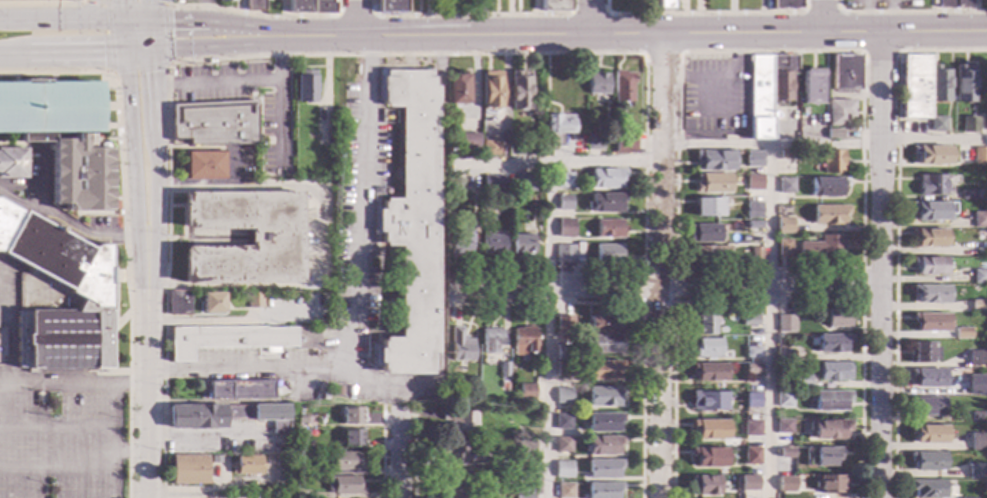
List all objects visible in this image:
building: (225, 1)
road: (42, 2)
building: (177, 2)
building: (664, 3)
building: (785, 4)
building: (952, 4)
building: (253, 5)
building: (553, 5)
building: (297, 6)
building: (322, 6)
building: (389, 6)
road: (147, 10)
road: (119, 11)
road: (906, 11)
road: (704, 12)
road: (821, 12)
road: (83, 13)
road: (253, 14)
road: (587, 14)
road: (470, 15)
road: (822, 15)
road: (354, 16)
road: (588, 16)
road: (356, 18)
traffic signals: (171, 21)
road: (177, 21)
road: (74, 22)
road: (241, 27)
road: (712, 32)
road: (316, 34)
road: (402, 36)
road: (276, 37)
road: (361, 37)
road: (122, 39)
road: (316, 41)
road: (213, 49)
road: (880, 52)
road: (660, 53)
road: (678, 54)
road: (137, 55)
road: (295, 55)
road: (73, 57)
traffic signals: (102, 57)
road: (11, 58)
road: (166, 59)
building: (209, 60)
building: (209, 62)
road: (276, 63)
traffic signals: (151, 72)
building: (846, 72)
building: (170, 73)
road: (720, 80)
building: (596, 83)
building: (964, 83)
building: (939, 84)
road: (151, 85)
road: (213, 85)
building: (305, 86)
building: (622, 86)
building: (812, 86)
building: (916, 86)
building: (457, 89)
building: (489, 90)
building: (768, 90)
building: (518, 91)
parking lot: (715, 98)
road: (714, 102)
building: (48, 108)
building: (840, 112)
building: (213, 122)
road: (275, 123)
building: (937, 124)
building: (969, 124)
building: (557, 127)
building: (322, 134)
building: (835, 134)
road: (133, 135)
building: (468, 141)
building: (593, 142)
road: (879, 142)
building: (624, 143)
building: (452, 145)
building: (489, 148)
building: (754, 155)
building: (787, 155)
building: (931, 155)
building: (981, 155)
building: (713, 160)
building: (832, 161)
building: (12, 163)
road: (554, 163)
building: (202, 166)
building: (80, 173)
building: (605, 178)
building: (754, 179)
building: (562, 180)
road: (146, 183)
building: (523, 183)
building: (712, 183)
building: (492, 184)
building: (932, 184)
building: (786, 185)
road: (281, 186)
building: (455, 186)
building: (827, 186)
building: (969, 194)
road: (18, 203)
building: (564, 203)
building: (606, 203)
building: (708, 207)
building: (754, 210)
building: (933, 211)
building: (117, 213)
building: (829, 215)
building: (979, 220)
building: (410, 223)
building: (754, 225)
building: (784, 226)
road: (73, 228)
building: (565, 228)
building: (609, 229)
road: (120, 230)
road: (895, 230)
building: (705, 233)
building: (272, 237)
building: (462, 238)
building: (929, 238)
building: (492, 244)
building: (523, 244)
building: (784, 248)
building: (817, 248)
building: (980, 249)
building: (609, 253)
building: (708, 253)
building: (565, 254)
building: (756, 255)
road: (660, 264)
road: (879, 264)
road: (769, 266)
building: (931, 266)
building: (982, 266)
building: (980, 276)
road: (861, 285)
road: (220, 288)
road: (666, 289)
building: (931, 293)
building: (56, 296)
building: (253, 300)
road: (767, 301)
building: (177, 302)
road: (673, 302)
building: (211, 303)
road: (642, 305)
building: (979, 305)
building: (838, 318)
building: (750, 320)
building: (930, 321)
road: (221, 323)
building: (785, 323)
building: (564, 324)
building: (605, 324)
building: (703, 325)
building: (803, 328)
road: (548, 331)
building: (963, 333)
building: (238, 340)
building: (490, 341)
building: (524, 341)
building: (832, 343)
building: (606, 344)
building: (460, 346)
building: (709, 348)
building: (752, 352)
building: (922, 352)
building: (566, 353)
building: (786, 355)
road: (143, 356)
building: (977, 358)
building: (752, 369)
road: (245, 370)
building: (503, 370)
building: (563, 370)
building: (604, 370)
building: (834, 371)
building: (709, 372)
building: (928, 377)
building: (801, 382)
road: (394, 383)
road: (110, 386)
building: (977, 387)
building: (239, 390)
building: (926, 391)
building: (526, 392)
building: (563, 396)
building: (604, 397)
building: (784, 399)
building: (830, 400)
building: (709, 401)
building: (752, 401)
building: (926, 406)
building: (351, 416)
building: (228, 417)
building: (977, 417)
building: (300, 420)
building: (459, 422)
building: (563, 422)
building: (604, 422)
building: (783, 426)
building: (710, 429)
building: (752, 429)
building: (829, 429)
building: (301, 434)
building: (928, 434)
building: (351, 438)
road: (205, 442)
building: (977, 442)
building: (563, 445)
building: (603, 445)
building: (526, 450)
building: (456, 452)
road: (127, 453)
road: (381, 453)
building: (786, 453)
road: (398, 454)
road: (413, 454)
building: (752, 456)
building: (820, 456)
building: (710, 457)
building: (215, 460)
building: (347, 461)
building: (927, 461)
building: (246, 465)
building: (563, 465)
building: (302, 466)
building: (188, 469)
building: (603, 469)
building: (975, 471)
building: (525, 475)
building: (455, 479)
building: (748, 483)
building: (786, 484)
building: (830, 484)
building: (705, 485)
building: (344, 486)
building: (925, 488)
building: (603, 490)
building: (564, 491)
building: (299, 495)
building: (261, 497)
building: (450, 497)
building: (525, 497)
building: (964, 497)

